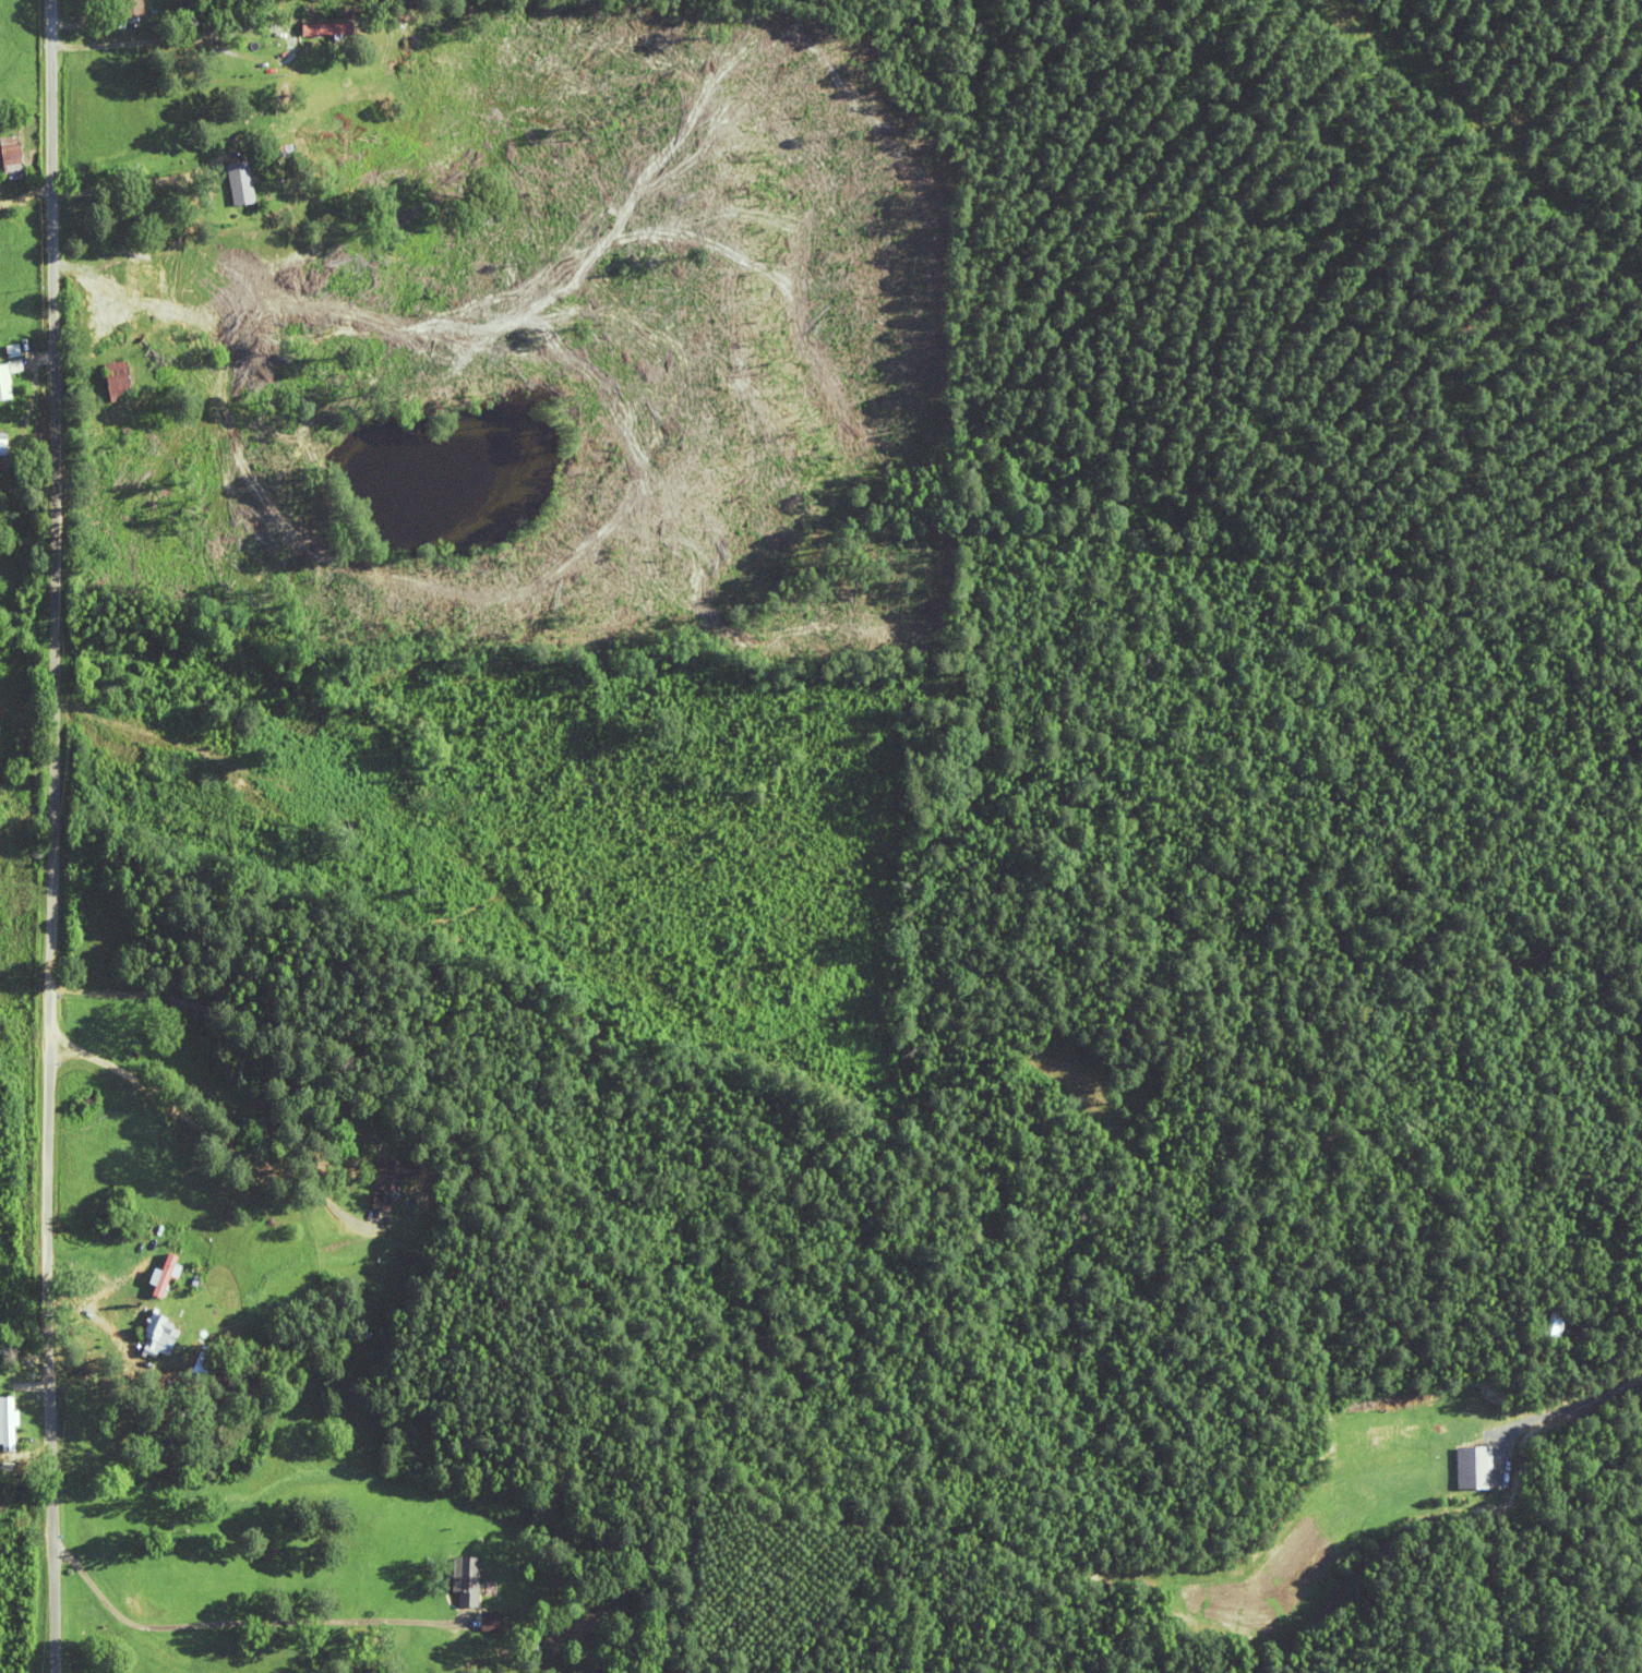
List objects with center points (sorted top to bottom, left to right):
building: (130, 8)
building: (329, 28)
building: (12, 158)
building: (241, 184)
building: (7, 377)
building: (119, 380)
building: (2, 446)
road: (39, 836)
building: (391, 1182)
building: (156, 1334)
building: (7, 1422)
building: (464, 1580)
building: (489, 1621)

